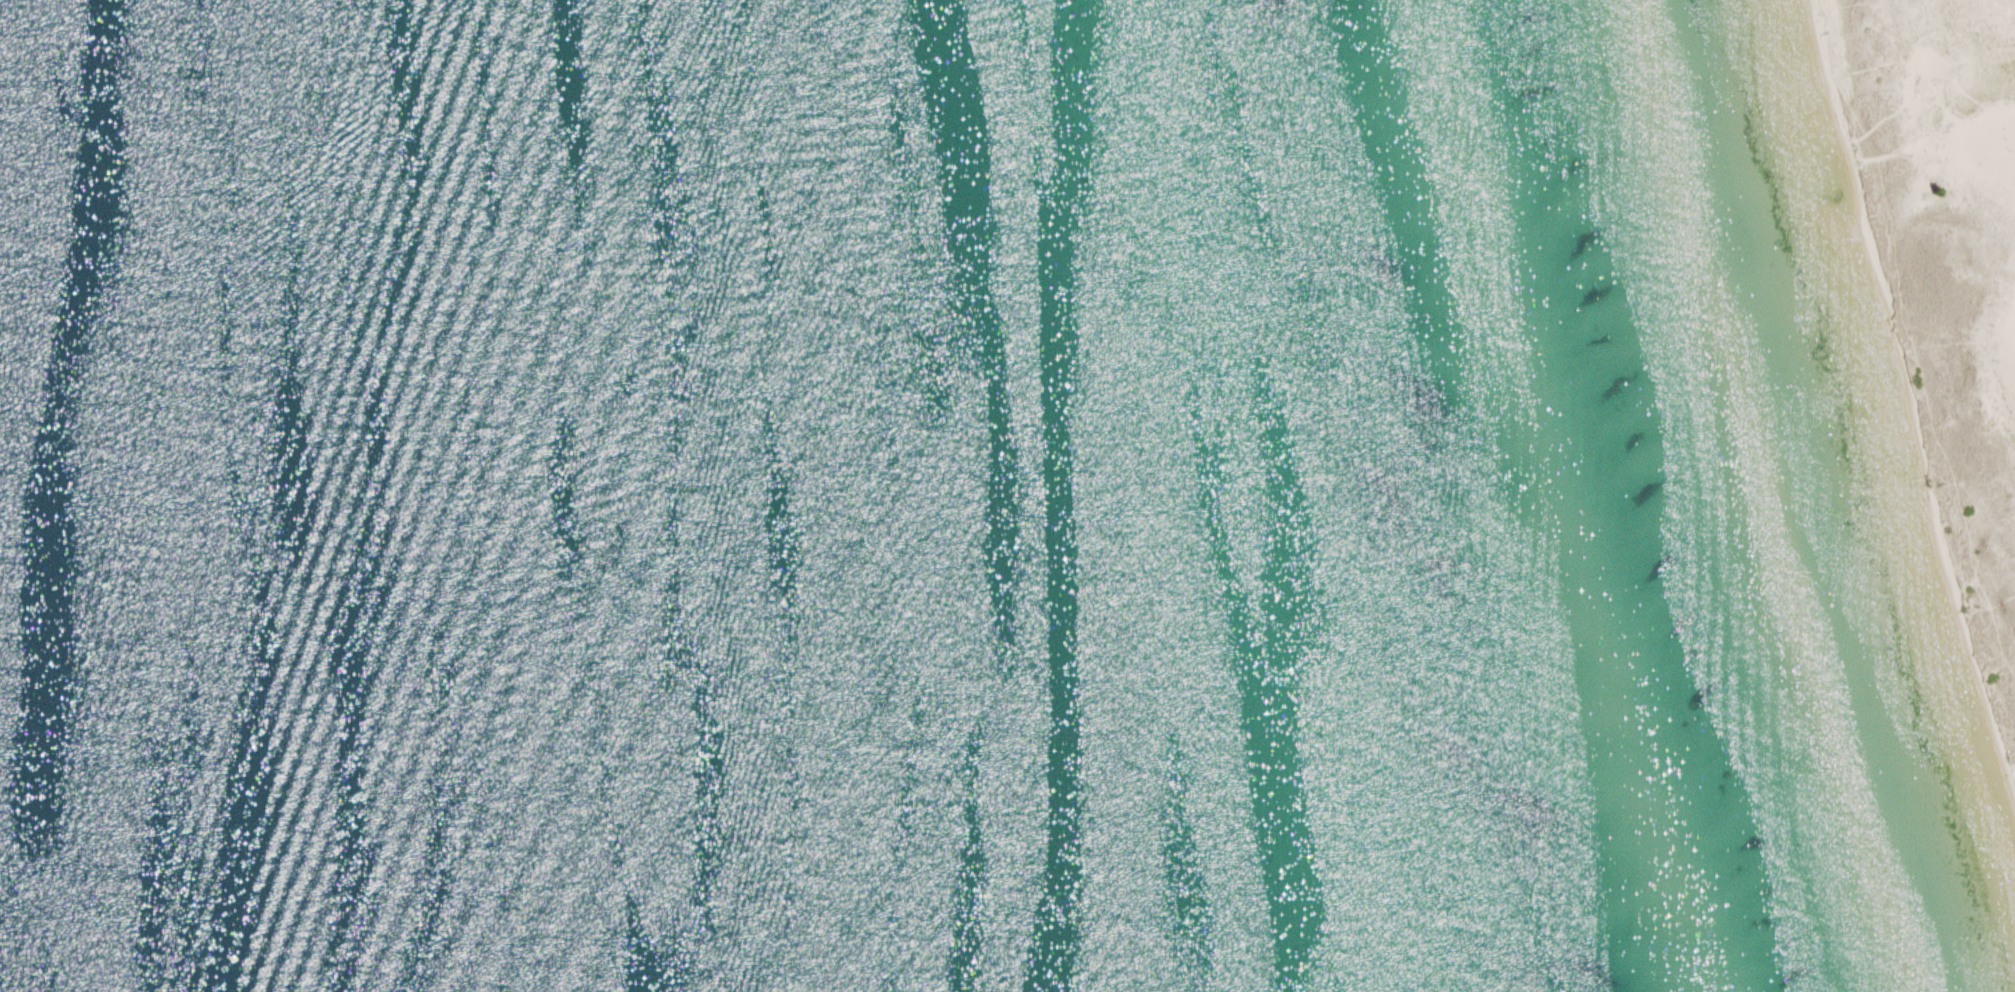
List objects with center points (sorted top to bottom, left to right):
road: (1960, 146)
park: (1924, 373)

